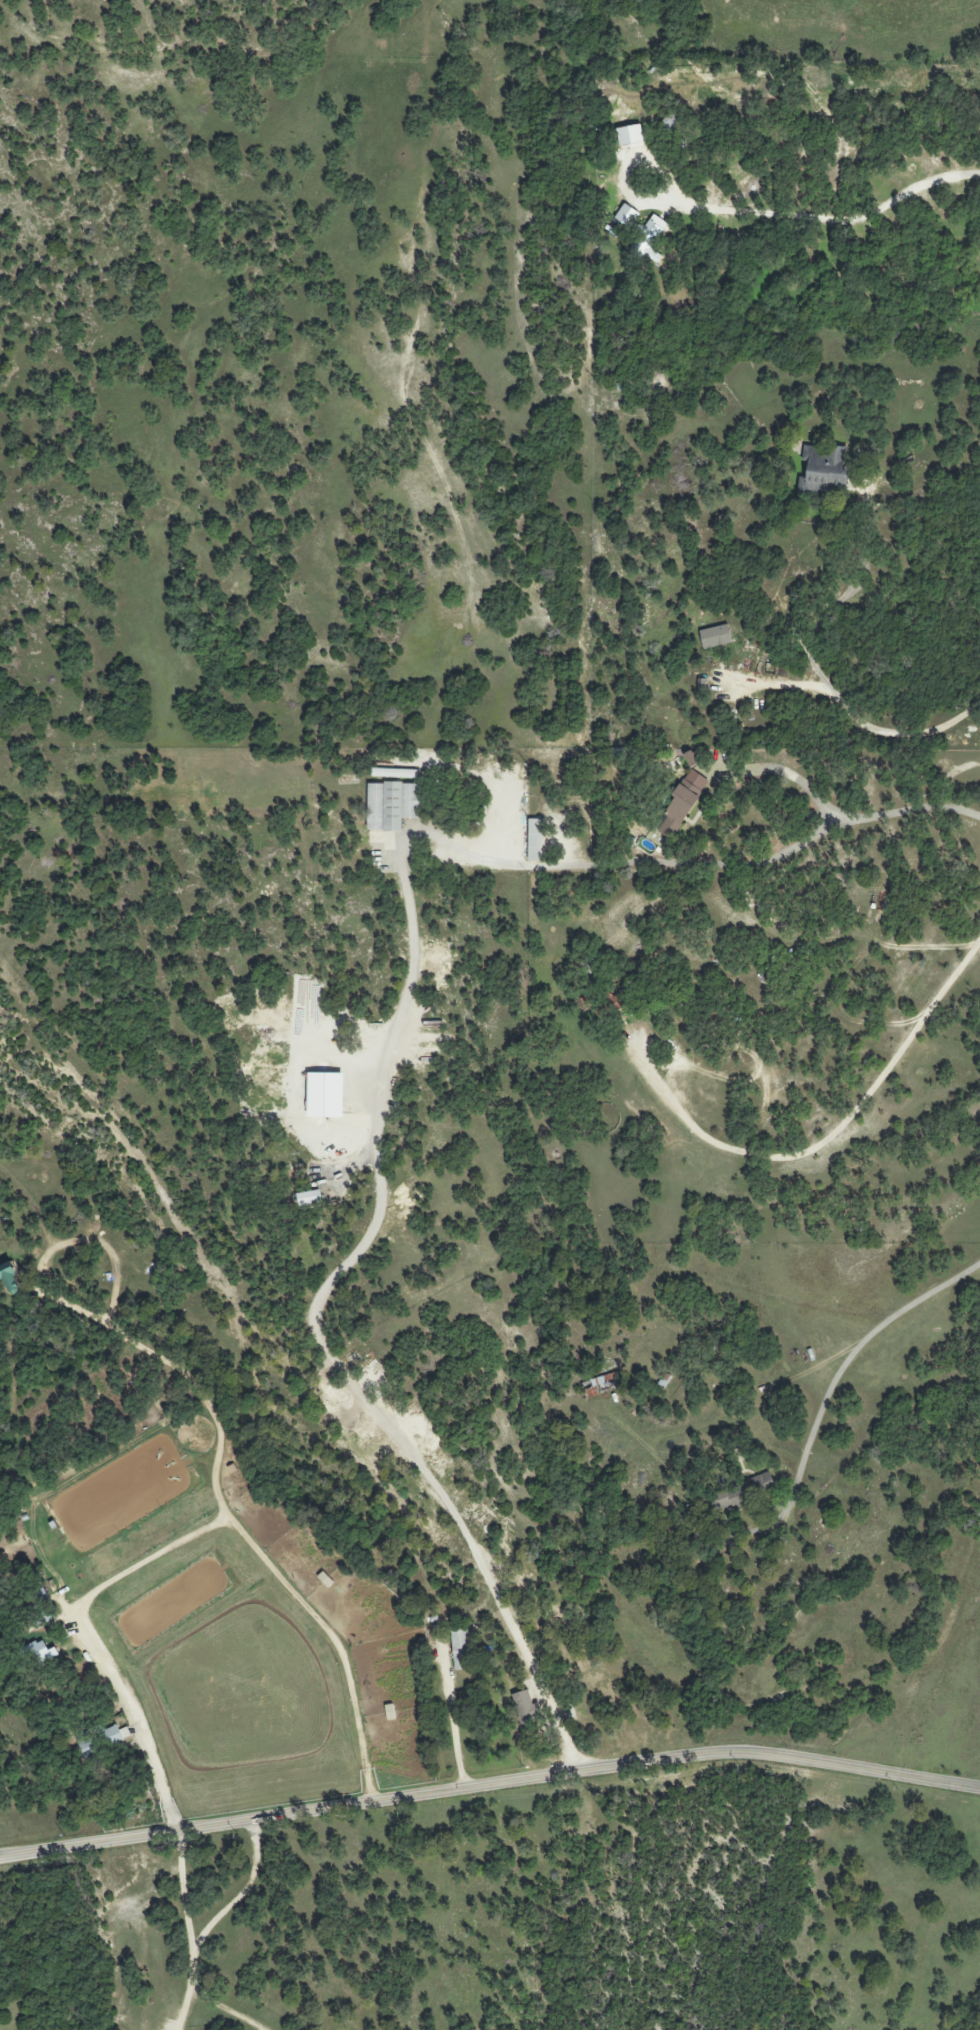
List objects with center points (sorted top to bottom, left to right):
building: (625, 214)
road: (834, 215)
building: (650, 239)
building: (823, 471)
building: (715, 636)
road: (816, 673)
road: (773, 684)
building: (683, 801)
building: (391, 805)
road: (906, 805)
road: (690, 824)
building: (535, 840)
building: (327, 1095)
road: (835, 1136)
building: (310, 1198)
road: (382, 1213)
building: (10, 1279)
road: (851, 1363)
building: (603, 1385)
building: (741, 1493)
road: (238, 1527)
building: (462, 1649)
building: (40, 1652)
building: (525, 1707)
road: (132, 1723)
road: (452, 1725)
building: (117, 1735)
road: (489, 1785)
road: (185, 1892)
road: (247, 1894)
road: (191, 1991)

